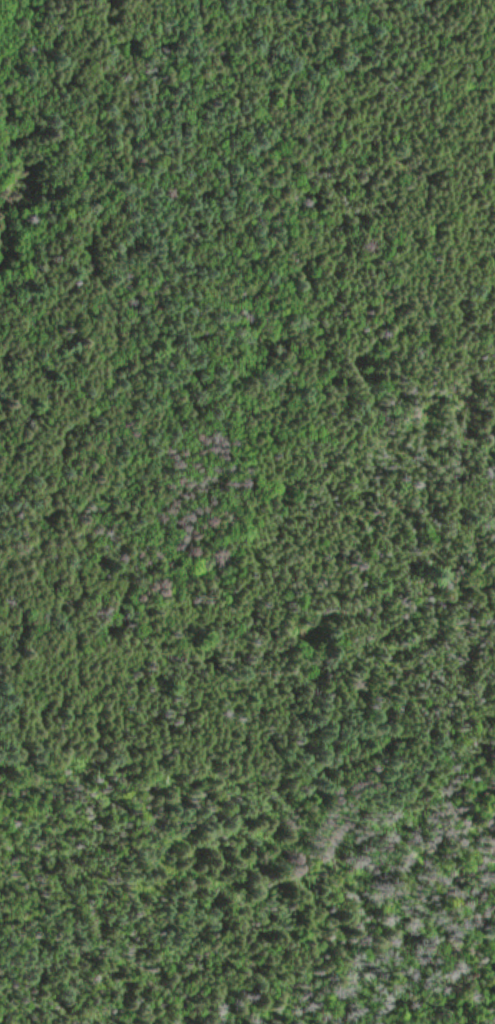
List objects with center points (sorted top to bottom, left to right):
river: (107, 339)

